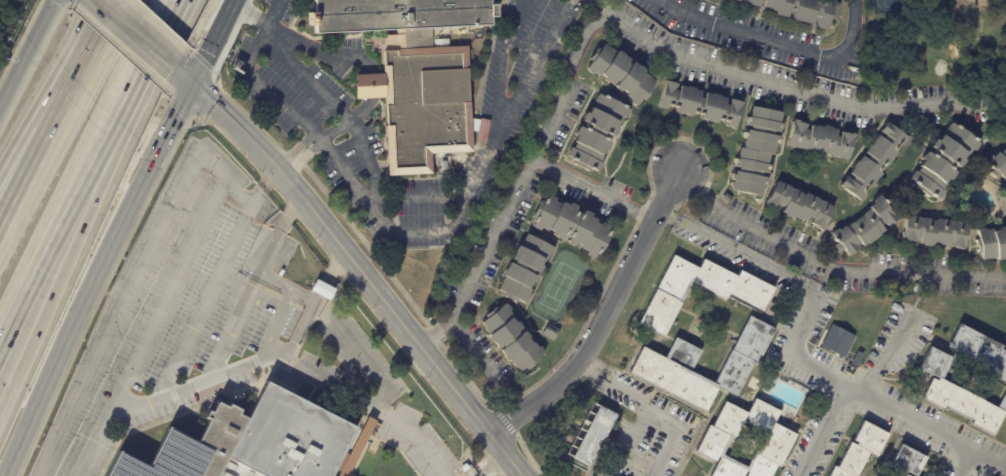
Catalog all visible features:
road: (109, 8)
building: (804, 9)
road: (261, 20)
road: (621, 25)
road: (129, 26)
road: (157, 42)
road: (530, 42)
road: (780, 42)
road: (88, 43)
road: (319, 51)
road: (26, 52)
road: (156, 52)
road: (299, 72)
building: (418, 74)
building: (619, 74)
road: (181, 75)
road: (499, 77)
traffic signals: (191, 84)
road: (370, 85)
road: (271, 88)
building: (698, 103)
road: (361, 109)
road: (346, 118)
road: (31, 130)
building: (593, 132)
building: (817, 138)
building: (754, 150)
road: (302, 154)
road: (32, 156)
road: (484, 156)
building: (941, 160)
building: (871, 161)
building: (997, 164)
road: (592, 190)
road: (181, 192)
building: (725, 197)
building: (1003, 200)
building: (798, 205)
road: (64, 214)
road: (385, 219)
building: (570, 225)
building: (863, 226)
building: (932, 232)
road: (112, 235)
building: (991, 243)
road: (74, 248)
road: (270, 248)
road: (827, 265)
building: (522, 268)
road: (363, 274)
road: (325, 275)
road: (213, 283)
building: (322, 289)
building: (739, 293)
road: (300, 296)
road: (599, 313)
road: (275, 320)
parking lot: (216, 324)
building: (549, 332)
road: (231, 333)
road: (293, 334)
building: (510, 339)
building: (836, 341)
road: (468, 345)
road: (791, 353)
road: (890, 354)
building: (855, 359)
building: (661, 368)
building: (936, 381)
road: (195, 383)
road: (379, 403)
road: (648, 407)
road: (2, 411)
road: (825, 431)
building: (593, 436)
building: (779, 439)
road: (98, 441)
building: (246, 442)
building: (859, 450)
road: (499, 459)
building: (905, 462)
road: (965, 462)
road: (479, 468)
road: (492, 470)
parking lot: (461, 475)
building: (604, 475)

